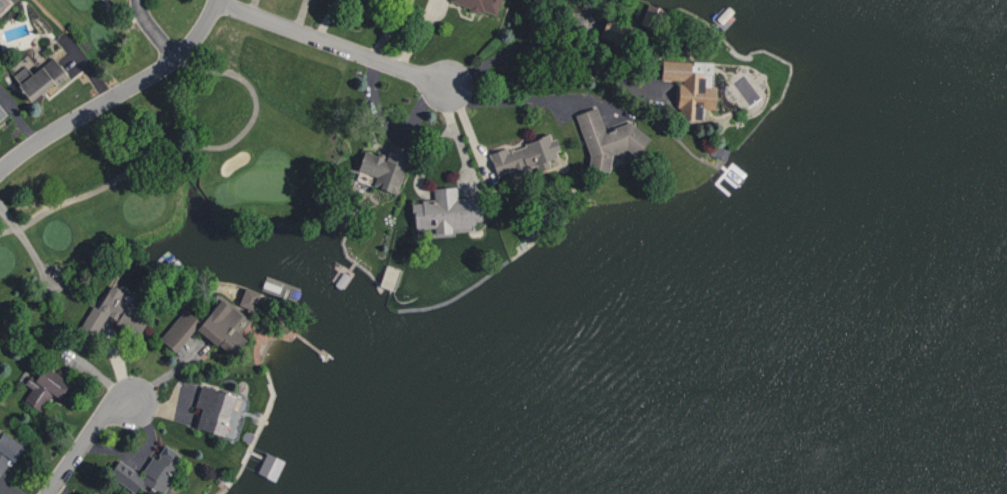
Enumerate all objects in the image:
building: (482, 4)
road: (250, 6)
road: (121, 15)
road: (300, 15)
road: (152, 30)
building: (614, 30)
road: (332, 44)
road: (539, 46)
building: (40, 76)
building: (691, 85)
building: (746, 89)
road: (117, 93)
road: (517, 100)
building: (2, 112)
road: (392, 130)
building: (607, 138)
road: (179, 143)
building: (525, 155)
building: (384, 166)
park: (161, 199)
building: (446, 212)
road: (22, 237)
building: (249, 297)
building: (116, 310)
building: (205, 326)
building: (47, 386)
building: (216, 409)
road: (85, 441)
building: (8, 451)
building: (270, 465)
building: (148, 472)
building: (93, 493)

